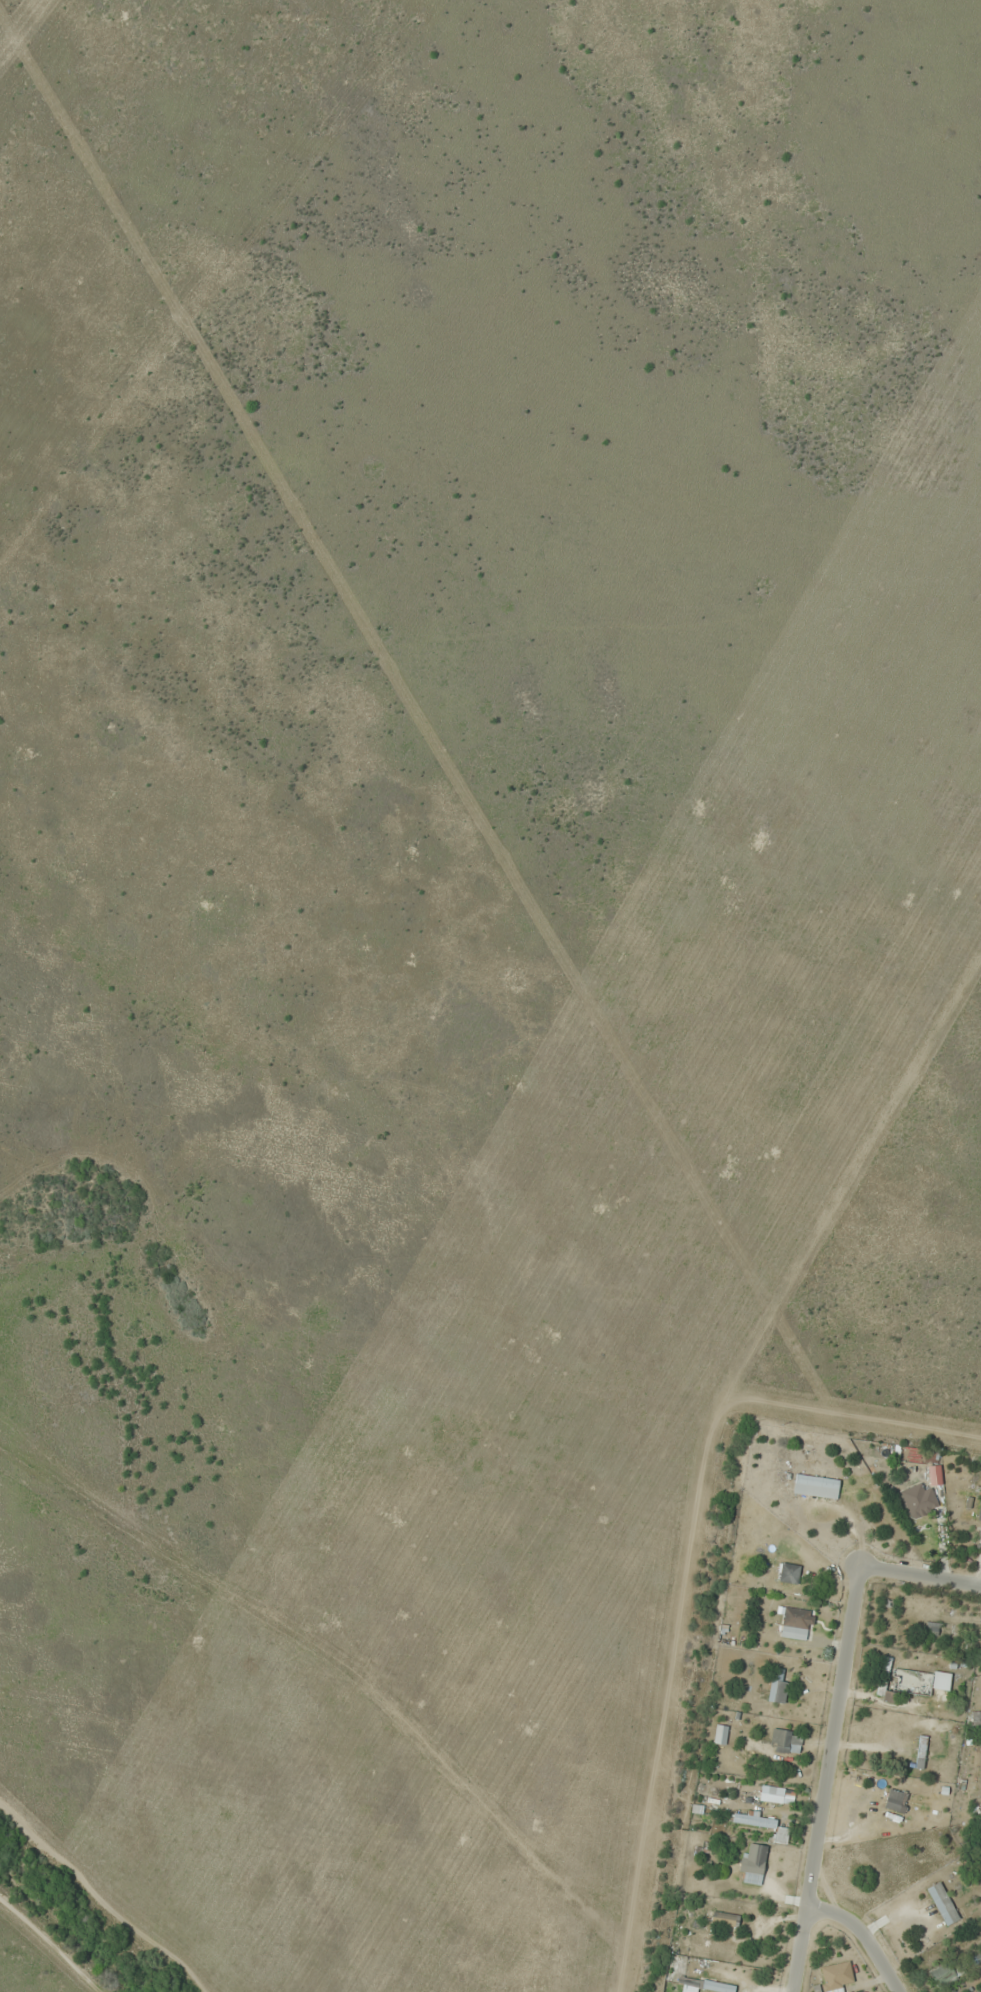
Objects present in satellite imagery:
building: (815, 1485)
building: (915, 1500)
building: (979, 1510)
building: (788, 1572)
building: (795, 1623)
building: (931, 1627)
building: (903, 1636)
building: (940, 1680)
building: (884, 1682)
building: (777, 1687)
road: (837, 1718)
building: (720, 1734)
building: (785, 1741)
building: (920, 1751)
building: (771, 1794)
building: (895, 1800)
building: (761, 1824)
building: (752, 1862)
building: (942, 1902)
building: (724, 1918)
road: (864, 1936)
building: (945, 1971)
building: (688, 1983)
building: (828, 1985)
building: (717, 1986)

